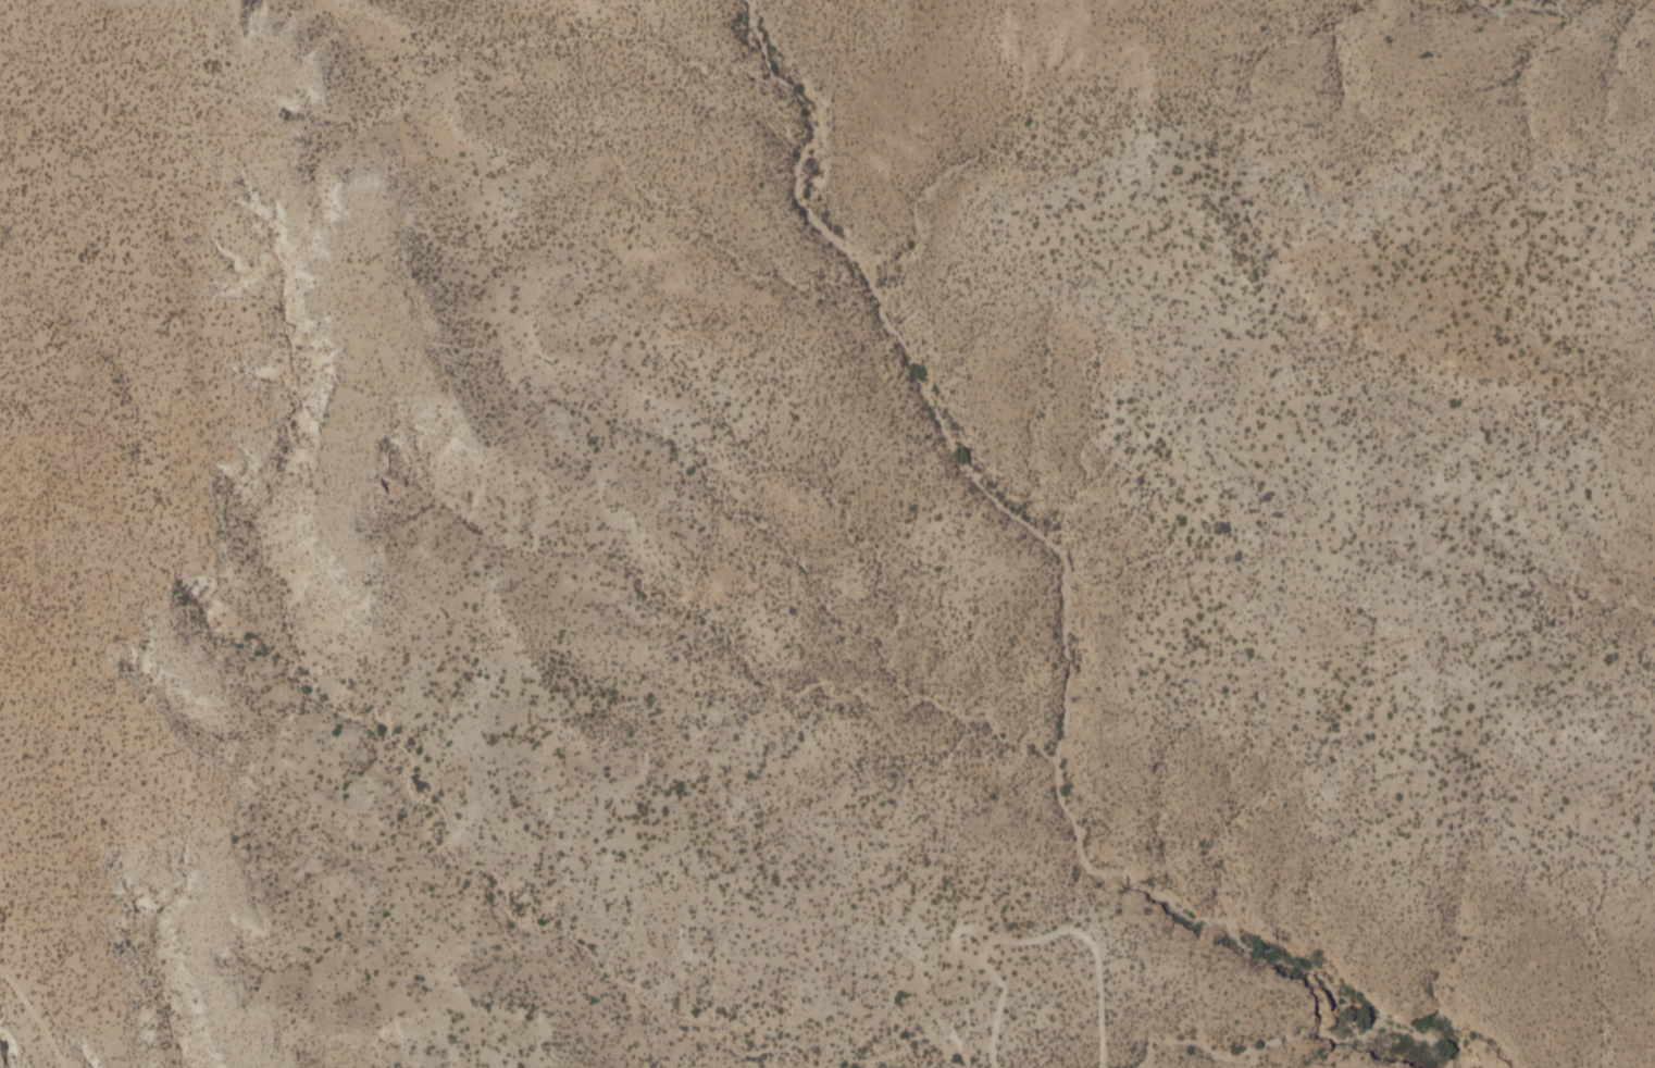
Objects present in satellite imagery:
road: (1006, 936)
road: (34, 1018)

